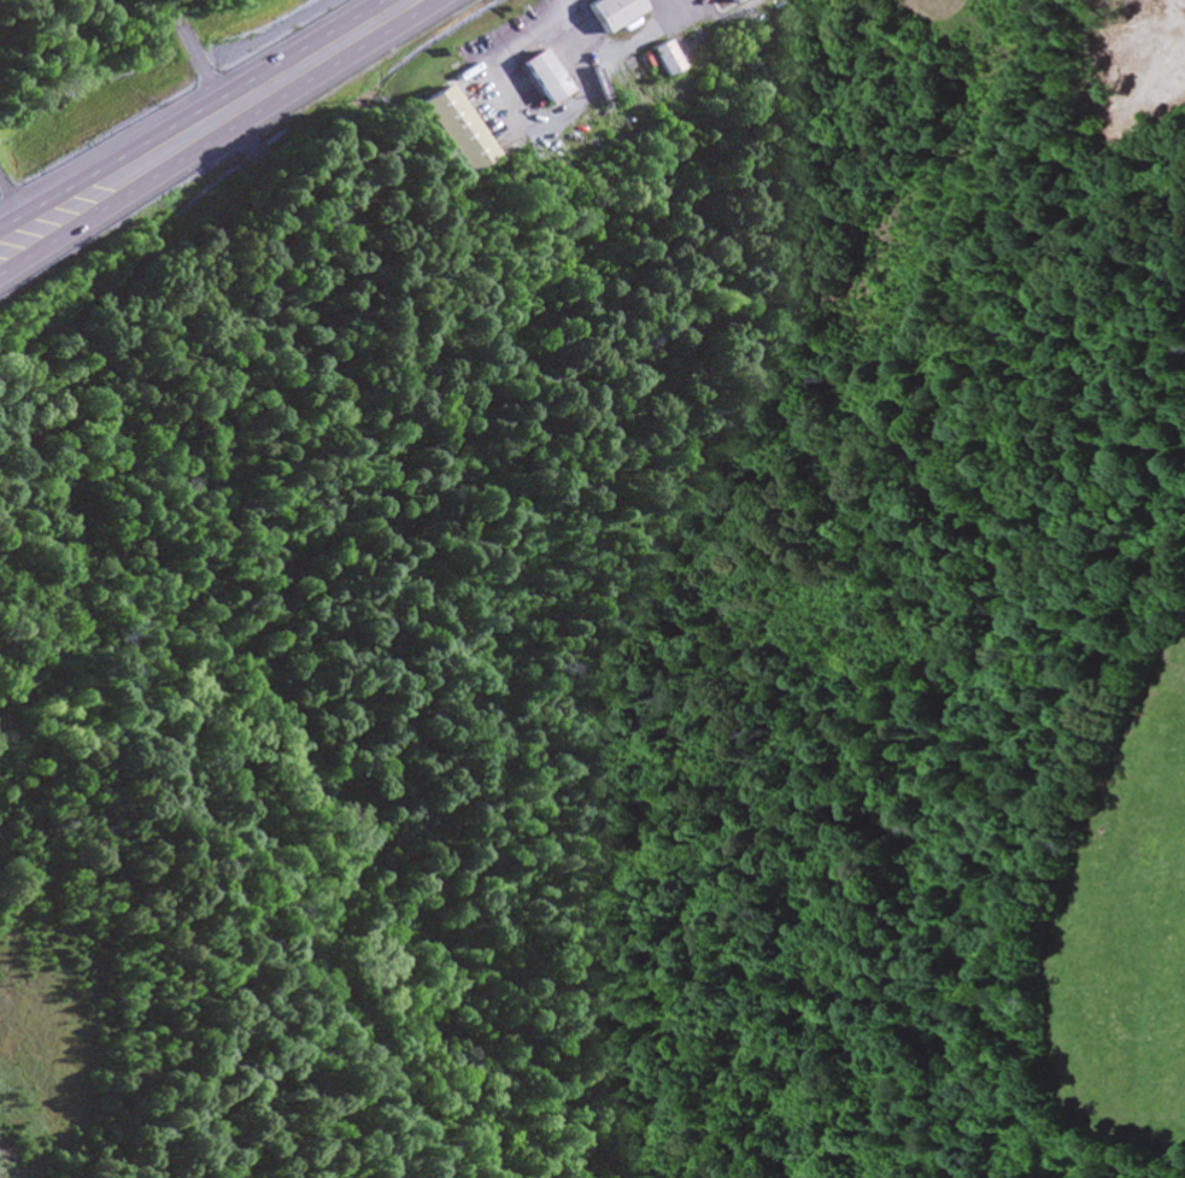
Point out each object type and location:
building: (723, 0)
building: (610, 12)
building: (661, 59)
building: (540, 76)
road: (196, 106)
road: (225, 128)
building: (450, 133)
road: (17, 264)

